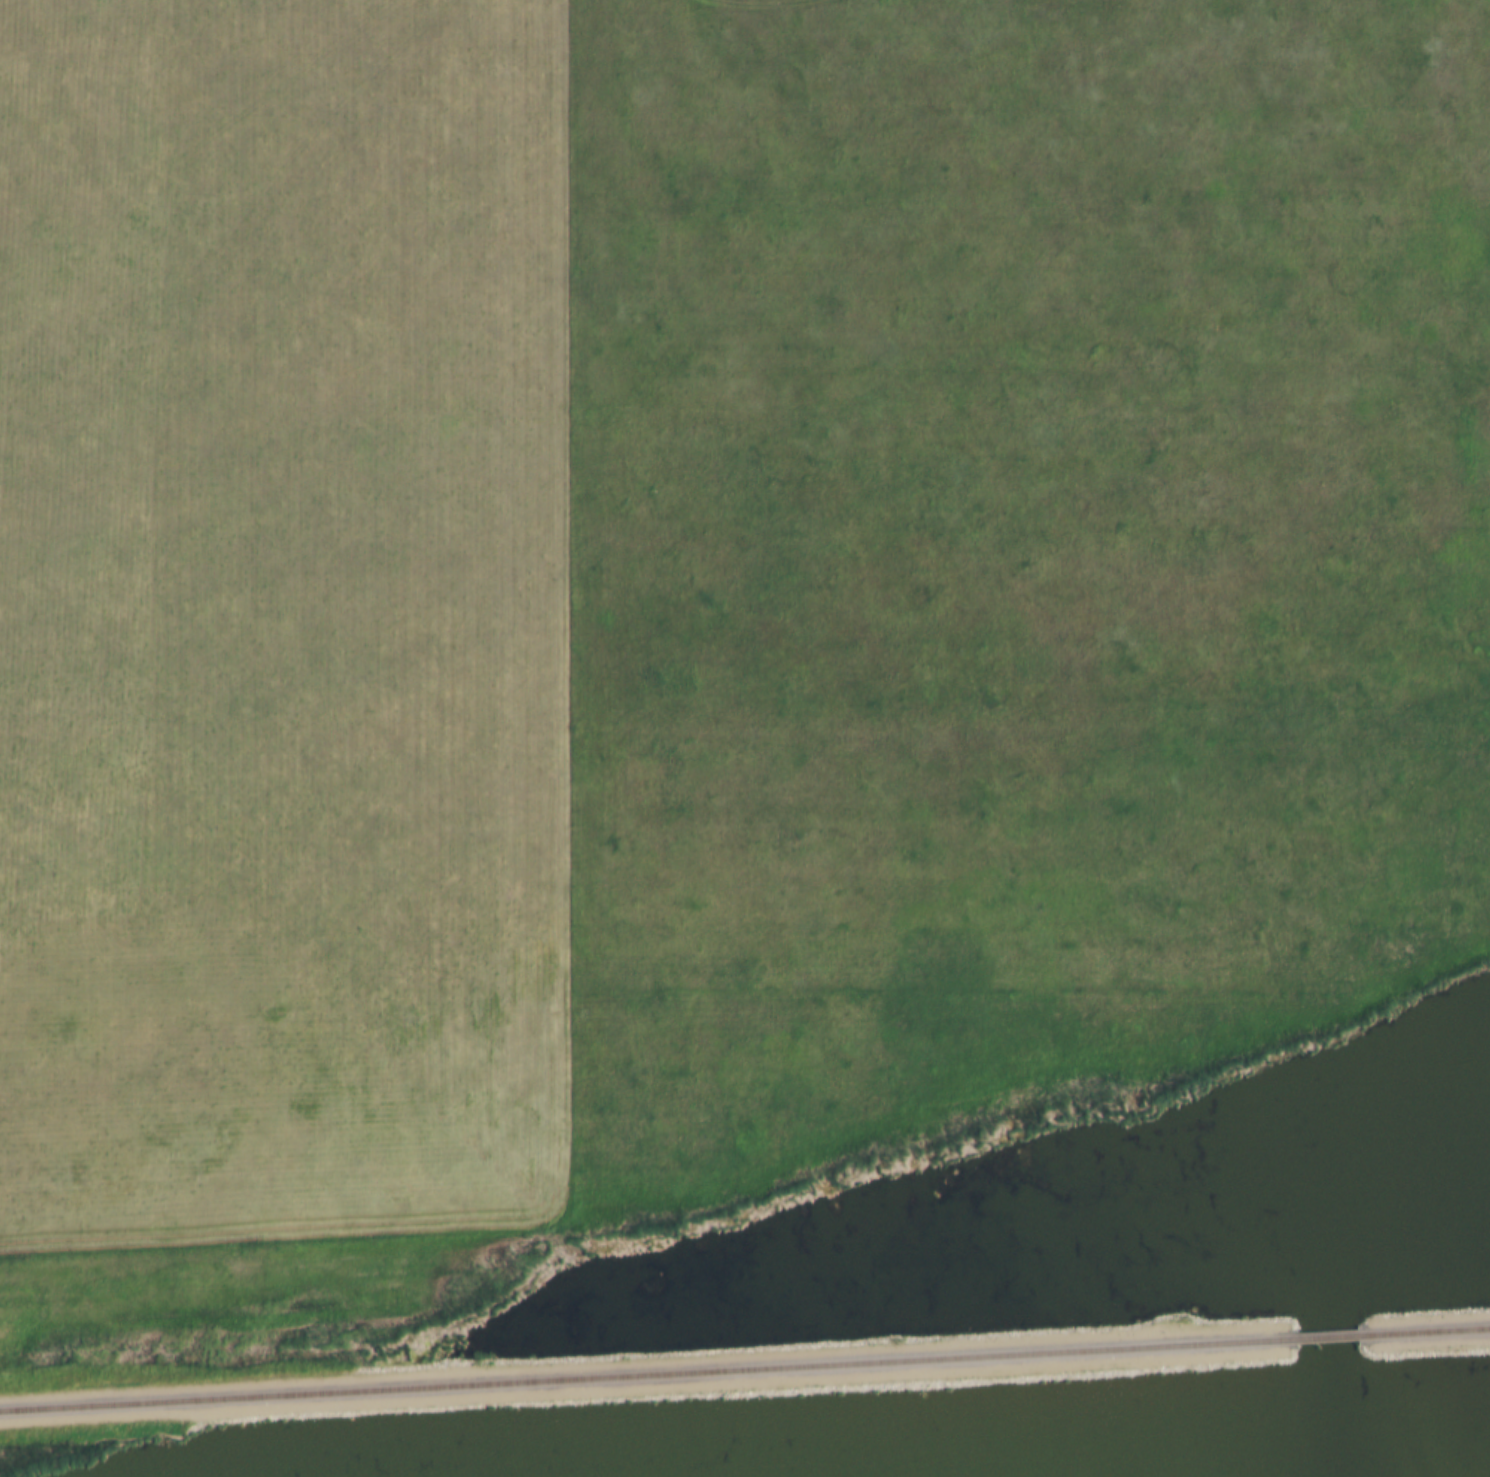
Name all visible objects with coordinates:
railway: (1425, 1334)
railway: (1328, 1340)
railway: (648, 1378)

